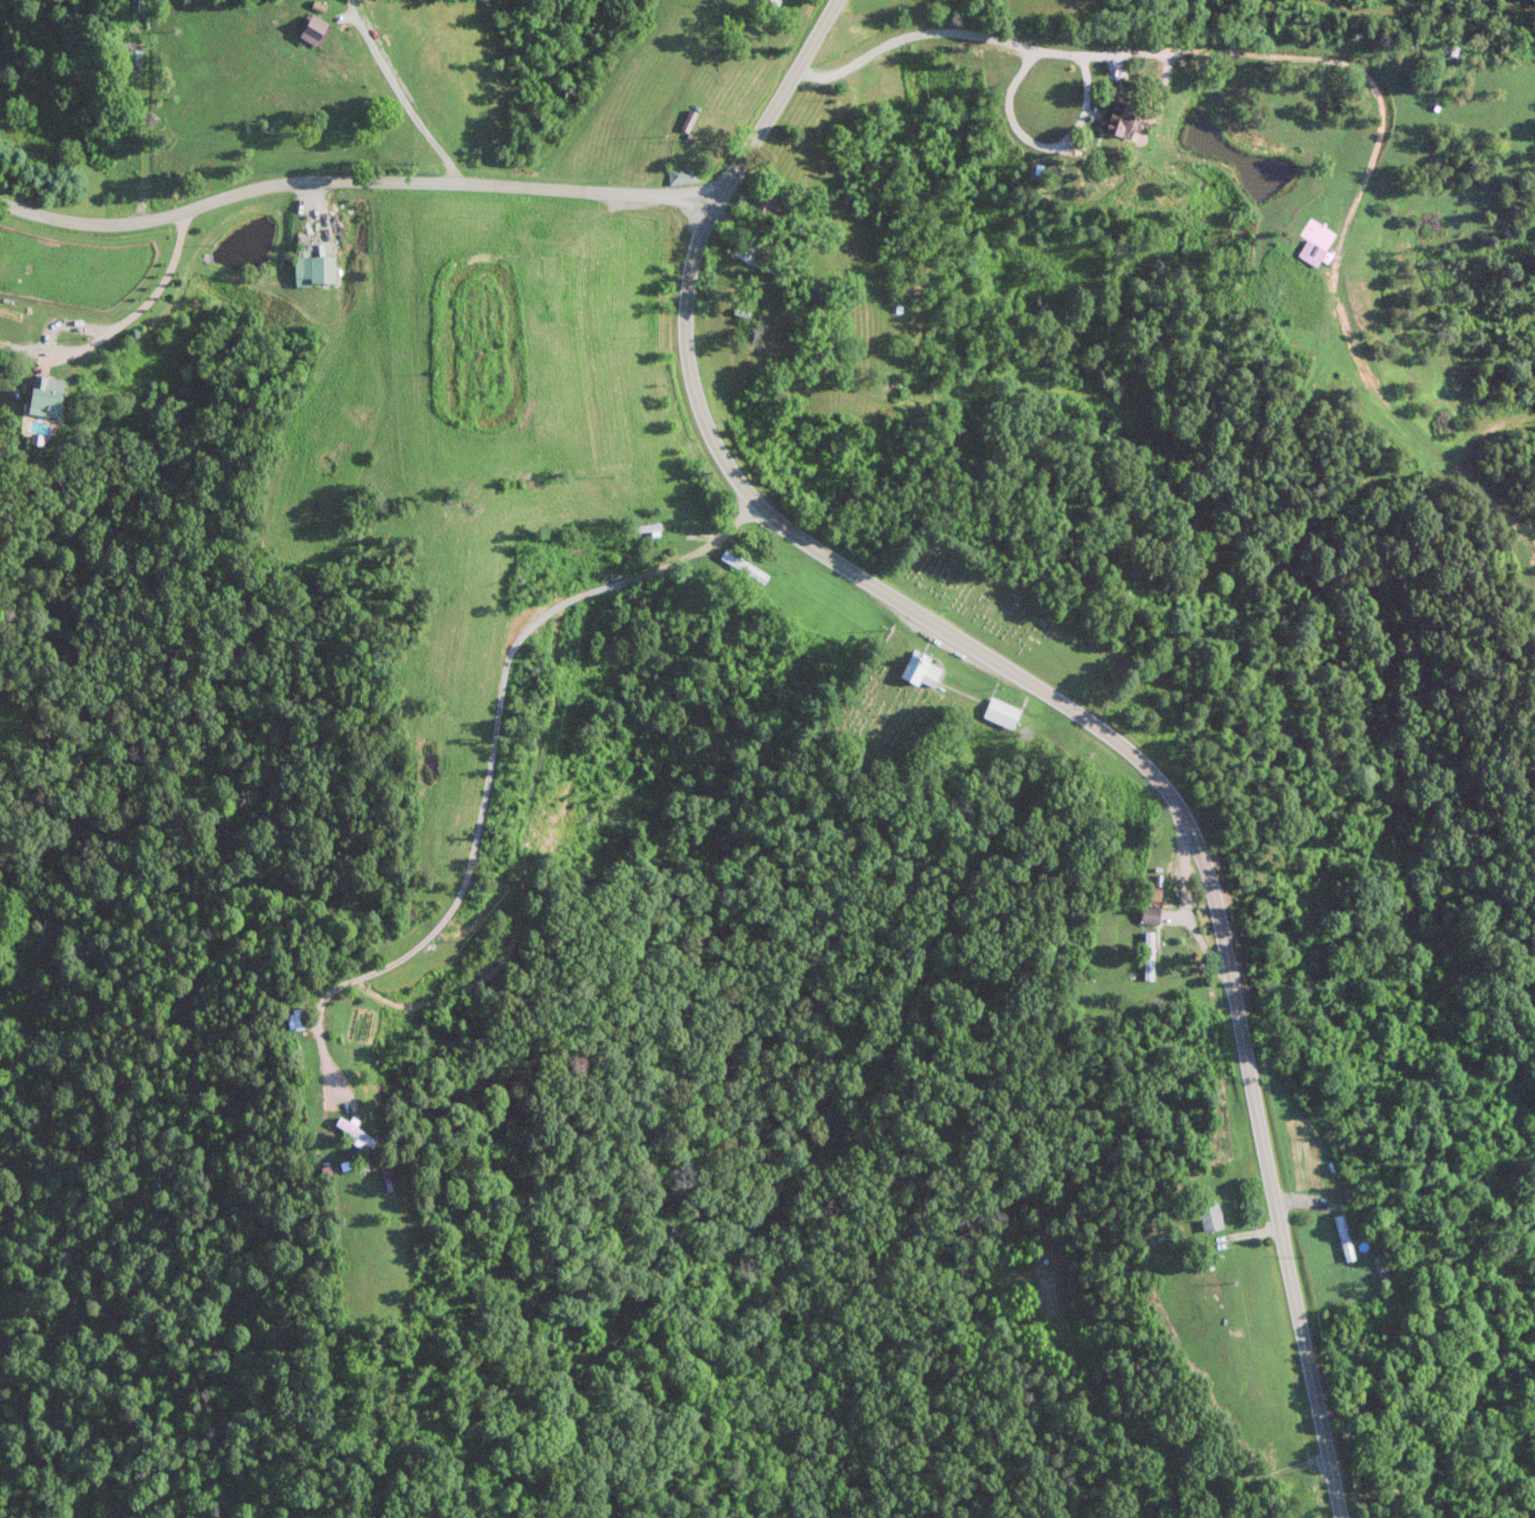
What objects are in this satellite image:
building: (774, 1)
building: (136, 5)
building: (122, 6)
building: (314, 30)
road: (1160, 51)
building: (128, 53)
road: (401, 102)
building: (1118, 116)
building: (682, 175)
road: (350, 182)
building: (769, 204)
building: (1310, 252)
building: (313, 268)
road: (120, 322)
building: (46, 395)
building: (647, 526)
building: (920, 669)
road: (1043, 694)
building: (1000, 712)
road: (488, 760)
building: (1149, 913)
building: (1148, 955)
building: (296, 1019)
building: (354, 1132)
building: (1210, 1217)
building: (1343, 1237)
building: (1381, 1269)

